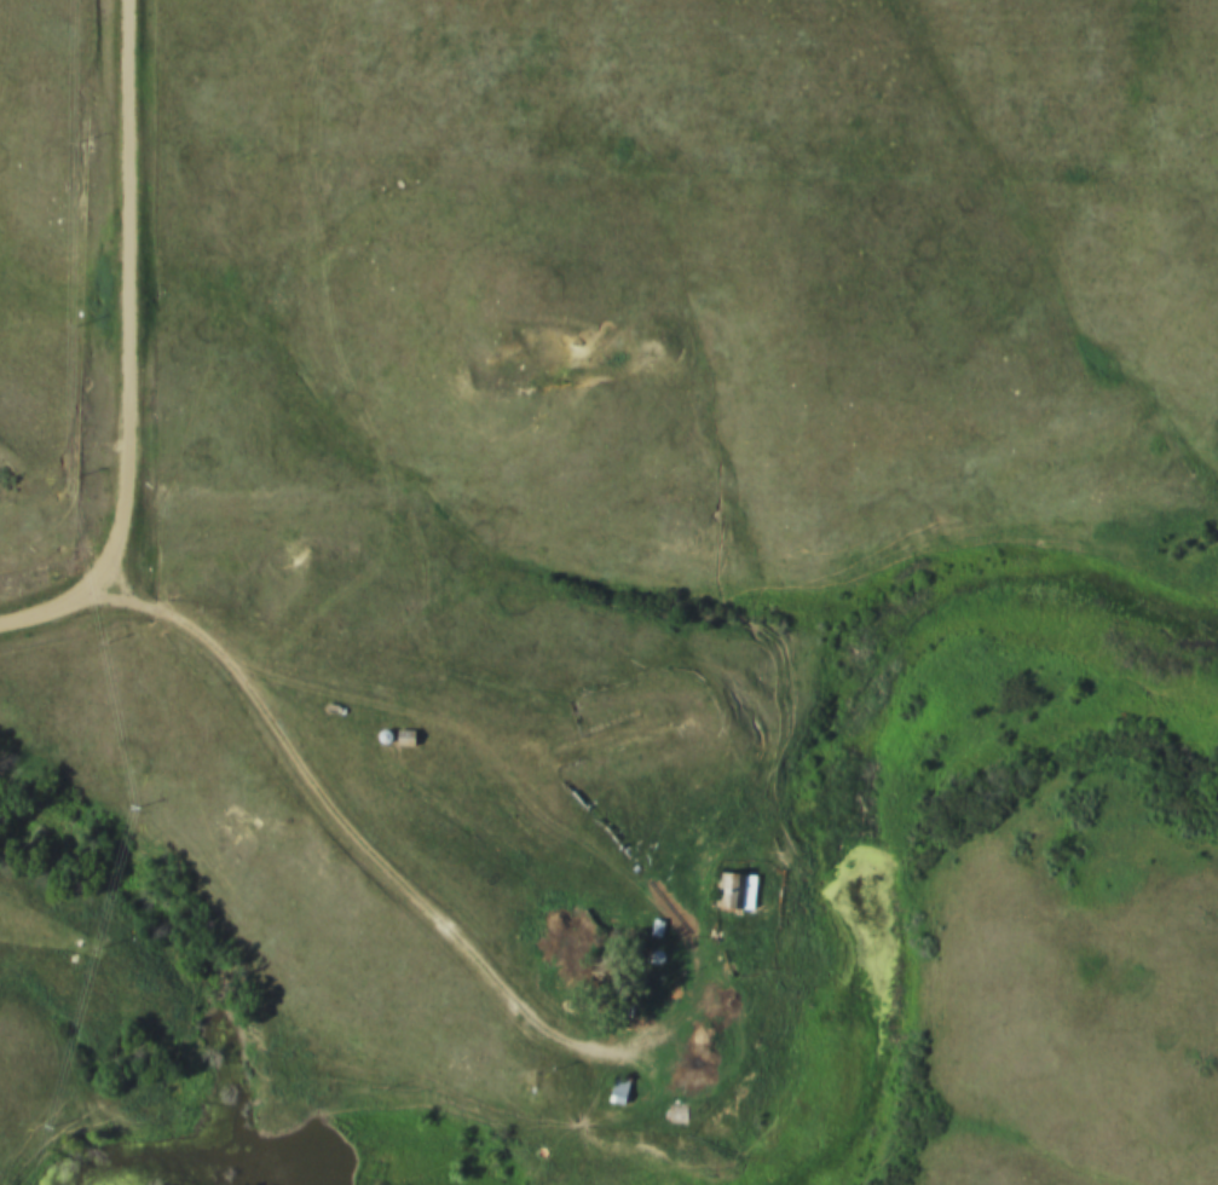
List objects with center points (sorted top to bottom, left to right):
road: (0, 0)
road: (133, 351)
building: (400, 739)
road: (369, 854)
building: (726, 892)
building: (613, 1092)
building: (669, 1114)

